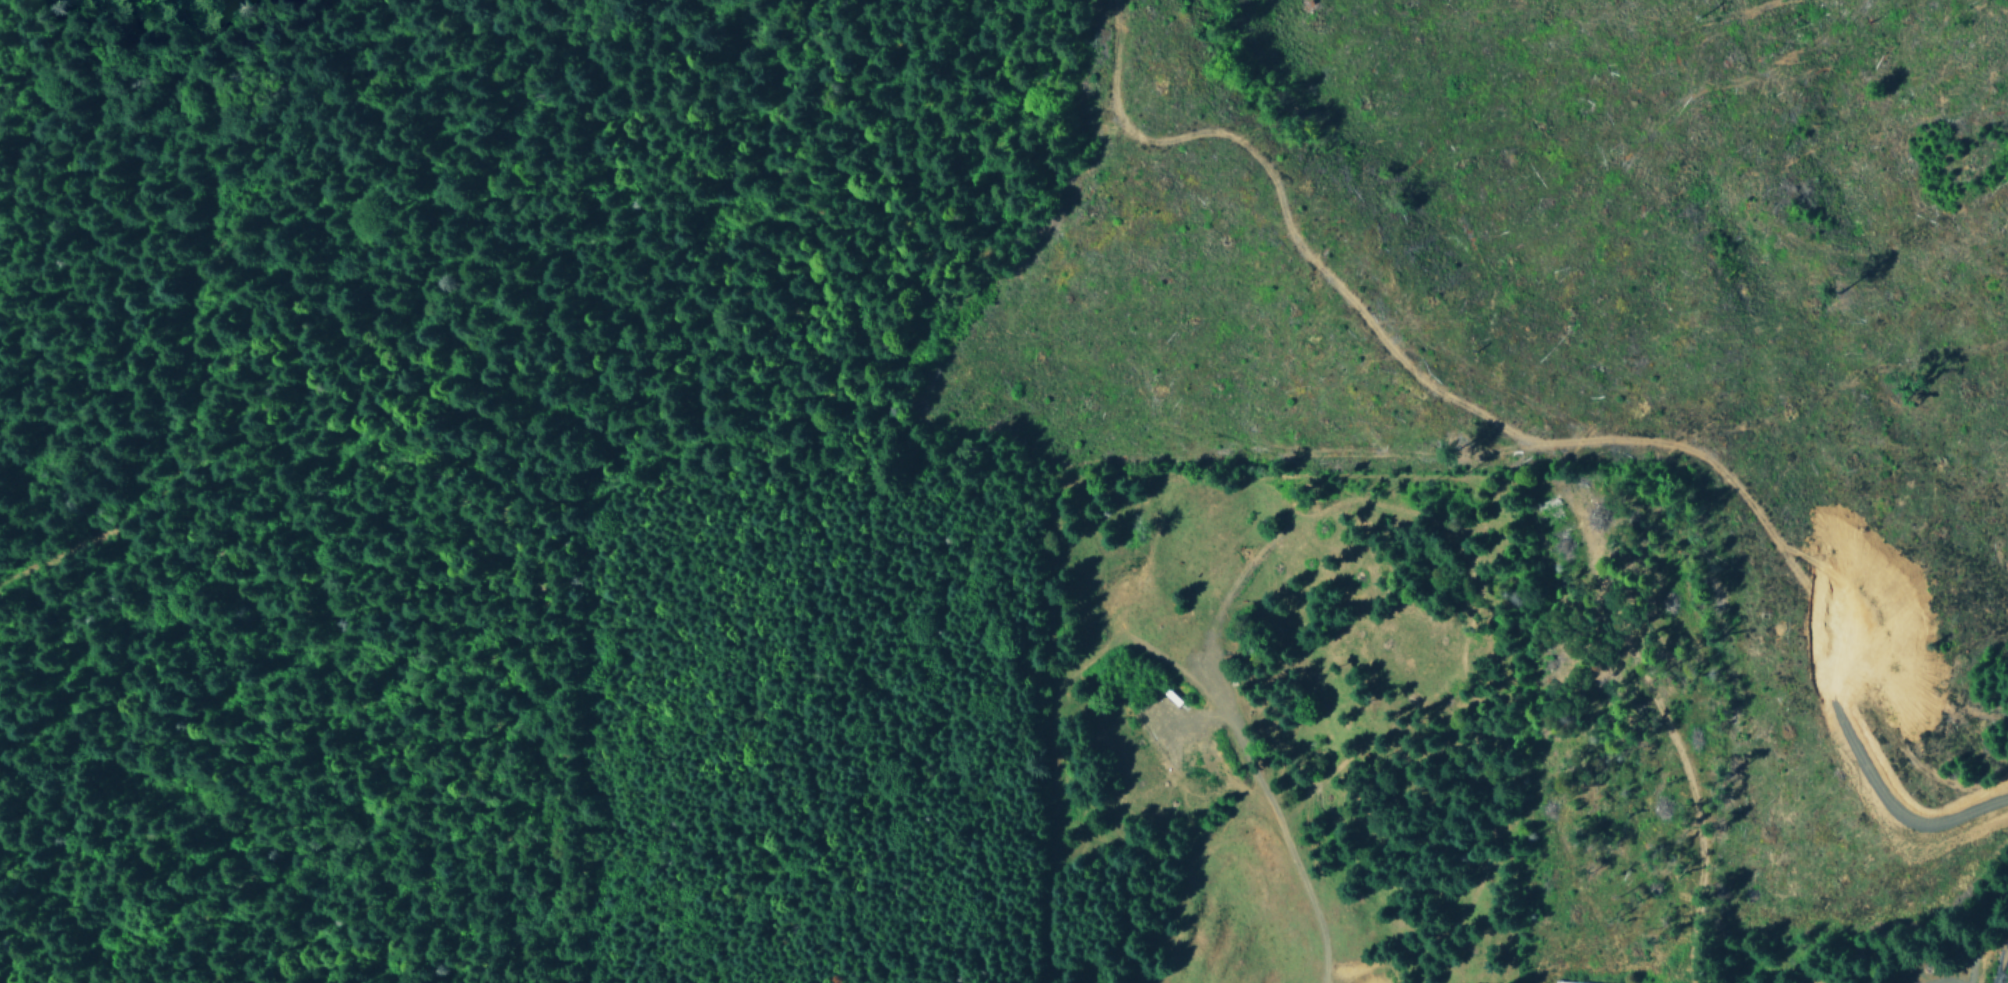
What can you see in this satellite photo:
road: (1256, 786)
building: (1563, 982)

